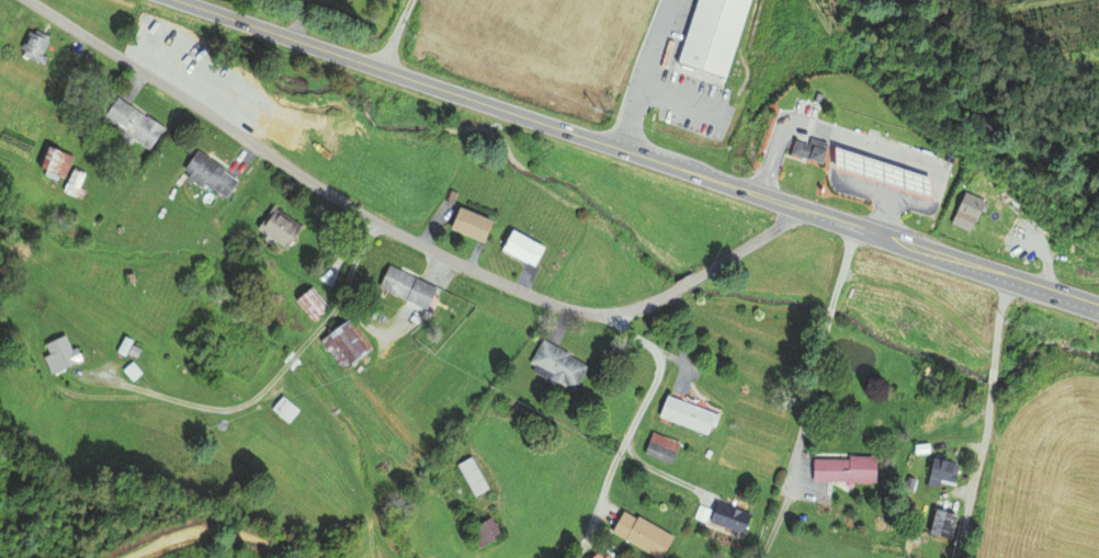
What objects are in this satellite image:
road: (395, 34)
building: (710, 35)
building: (31, 46)
building: (128, 124)
building: (809, 149)
road: (637, 155)
building: (53, 161)
building: (207, 172)
building: (880, 172)
gas station: (880, 172)
building: (70, 181)
road: (339, 201)
building: (966, 208)
building: (469, 224)
building: (279, 227)
road: (749, 243)
building: (520, 247)
road: (841, 266)
road: (690, 281)
building: (406, 287)
building: (309, 303)
road: (829, 312)
road: (997, 321)
building: (345, 340)
building: (60, 352)
building: (556, 364)
road: (992, 375)
road: (272, 378)
road: (807, 407)
building: (283, 408)
building: (686, 413)
building: (941, 415)
road: (633, 420)
building: (659, 447)
building: (845, 468)
building: (942, 469)
road: (976, 470)
road: (659, 471)
building: (471, 475)
building: (728, 516)
building: (940, 523)
road: (774, 526)
building: (481, 531)
building: (639, 534)
building: (594, 557)
building: (604, 557)

